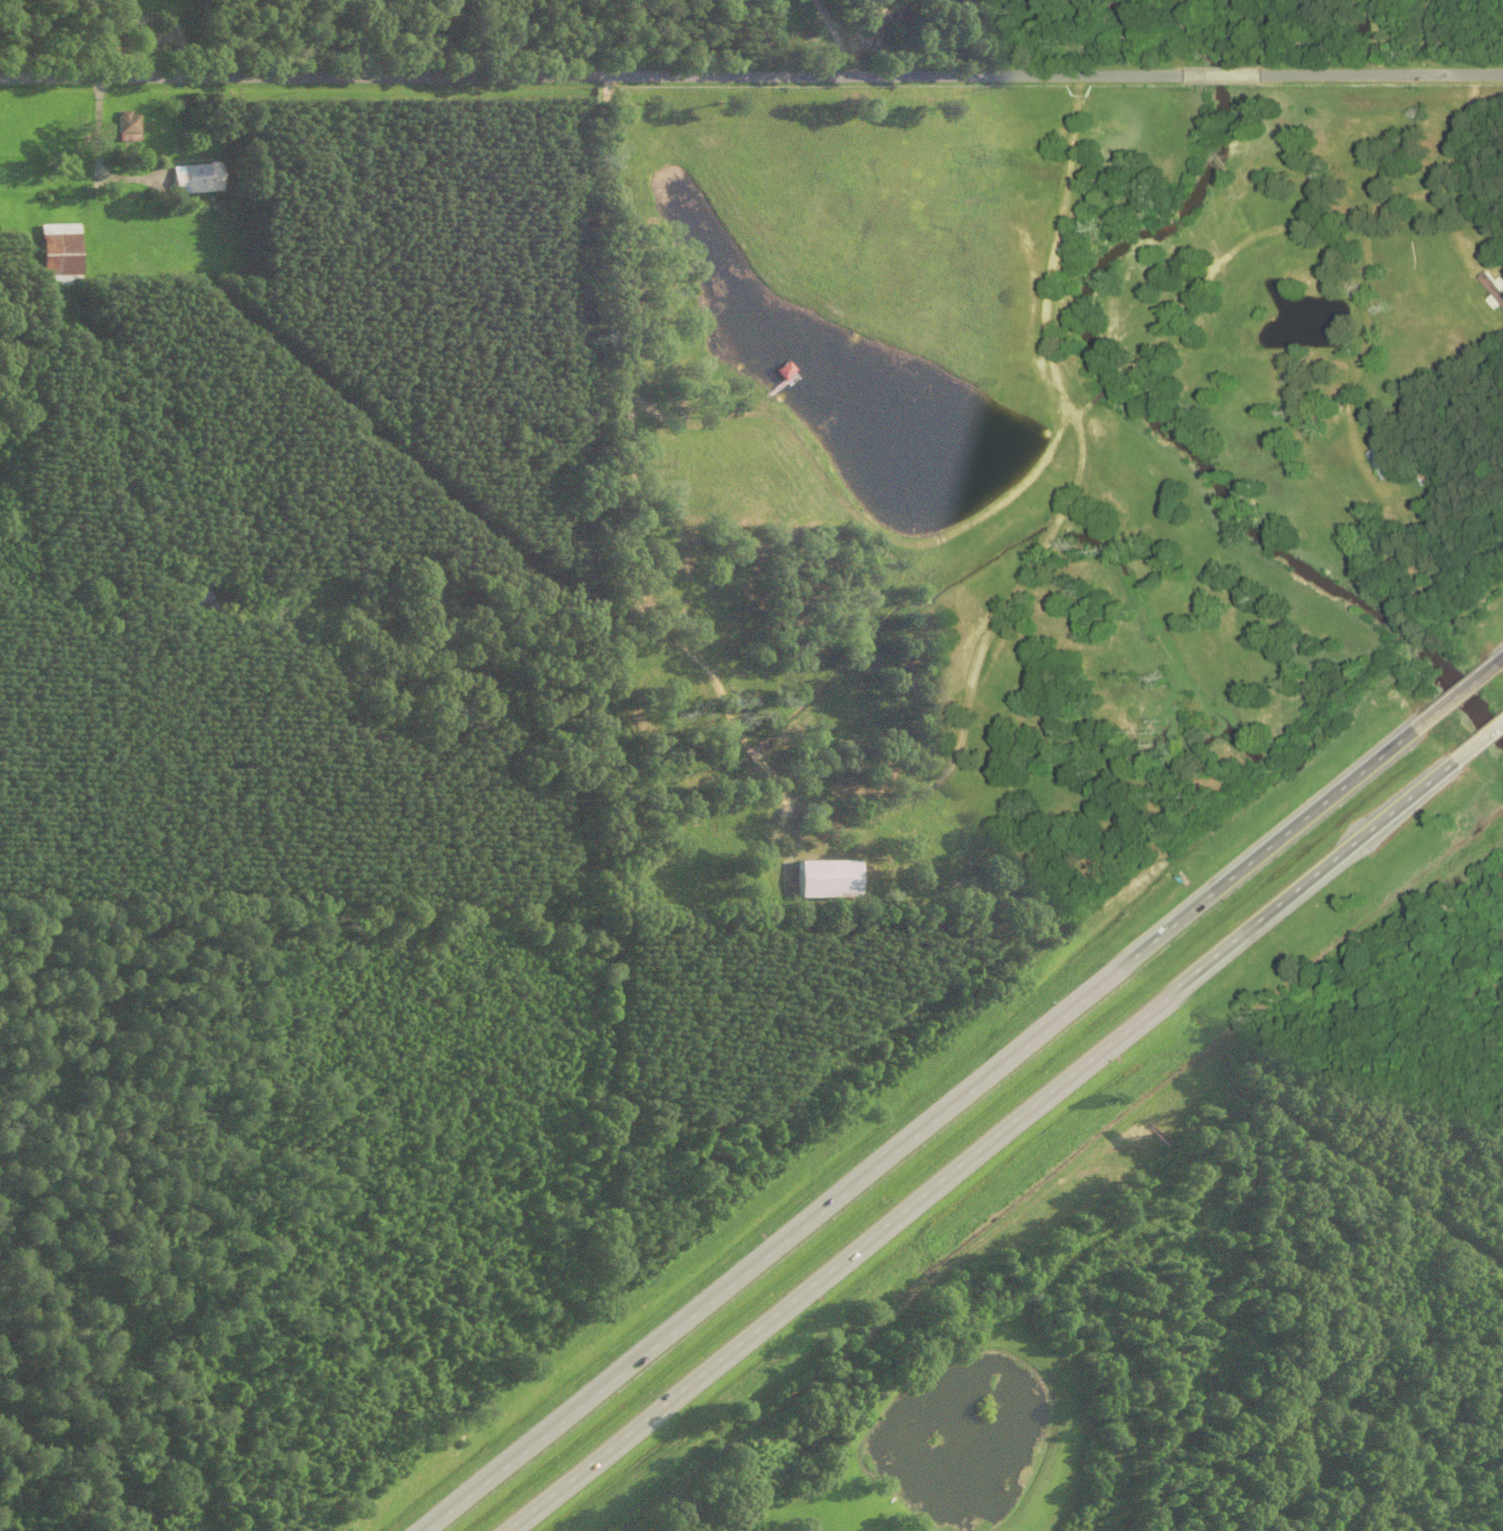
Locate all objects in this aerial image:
river: (1096, 2)
building: (858, 7)
road: (1380, 72)
road: (590, 73)
road: (1219, 73)
building: (128, 126)
building: (195, 179)
building: (57, 255)
building: (1494, 289)
river: (1139, 411)
building: (1383, 462)
road: (1502, 660)
road: (1457, 694)
road: (1478, 739)
building: (826, 878)
road: (920, 1129)
road: (980, 1145)

